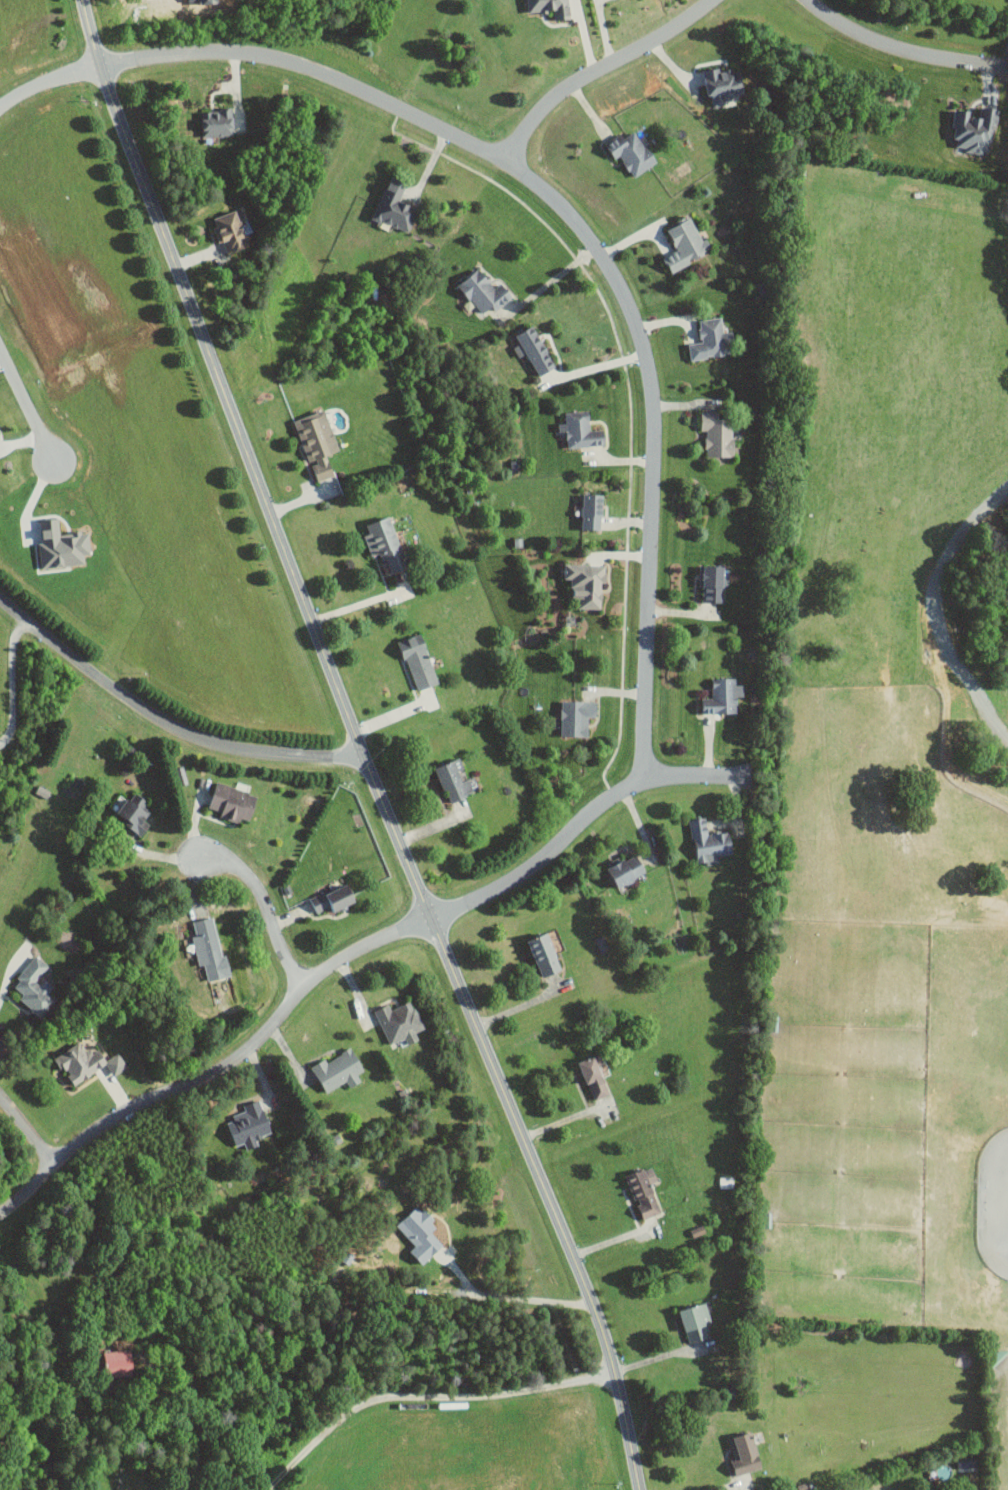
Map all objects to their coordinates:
building: (550, 8)
road: (909, 54)
road: (603, 69)
road: (46, 78)
building: (724, 84)
building: (216, 122)
building: (974, 129)
building: (631, 152)
building: (395, 205)
building: (231, 229)
road: (591, 244)
building: (686, 244)
road: (553, 280)
building: (484, 290)
building: (710, 340)
building: (534, 349)
road: (592, 368)
road: (27, 402)
building: (581, 430)
building: (717, 434)
building: (317, 442)
building: (592, 511)
building: (61, 545)
building: (586, 583)
building: (713, 583)
road: (359, 603)
building: (418, 661)
road: (12, 680)
building: (723, 696)
building: (577, 717)
road: (165, 721)
road: (360, 745)
building: (455, 780)
building: (233, 803)
building: (133, 813)
building: (709, 842)
building: (626, 870)
building: (334, 898)
road: (263, 904)
building: (209, 950)
road: (351, 954)
building: (544, 955)
road: (8, 972)
building: (35, 987)
building: (399, 1023)
building: (87, 1063)
building: (338, 1070)
building: (595, 1075)
road: (566, 1118)
building: (249, 1125)
road: (27, 1130)
building: (726, 1182)
building: (644, 1191)
building: (420, 1234)
road: (509, 1297)
building: (696, 1322)
building: (117, 1363)
road: (423, 1393)
road: (193, 1412)
building: (745, 1454)
road: (725, 1487)

